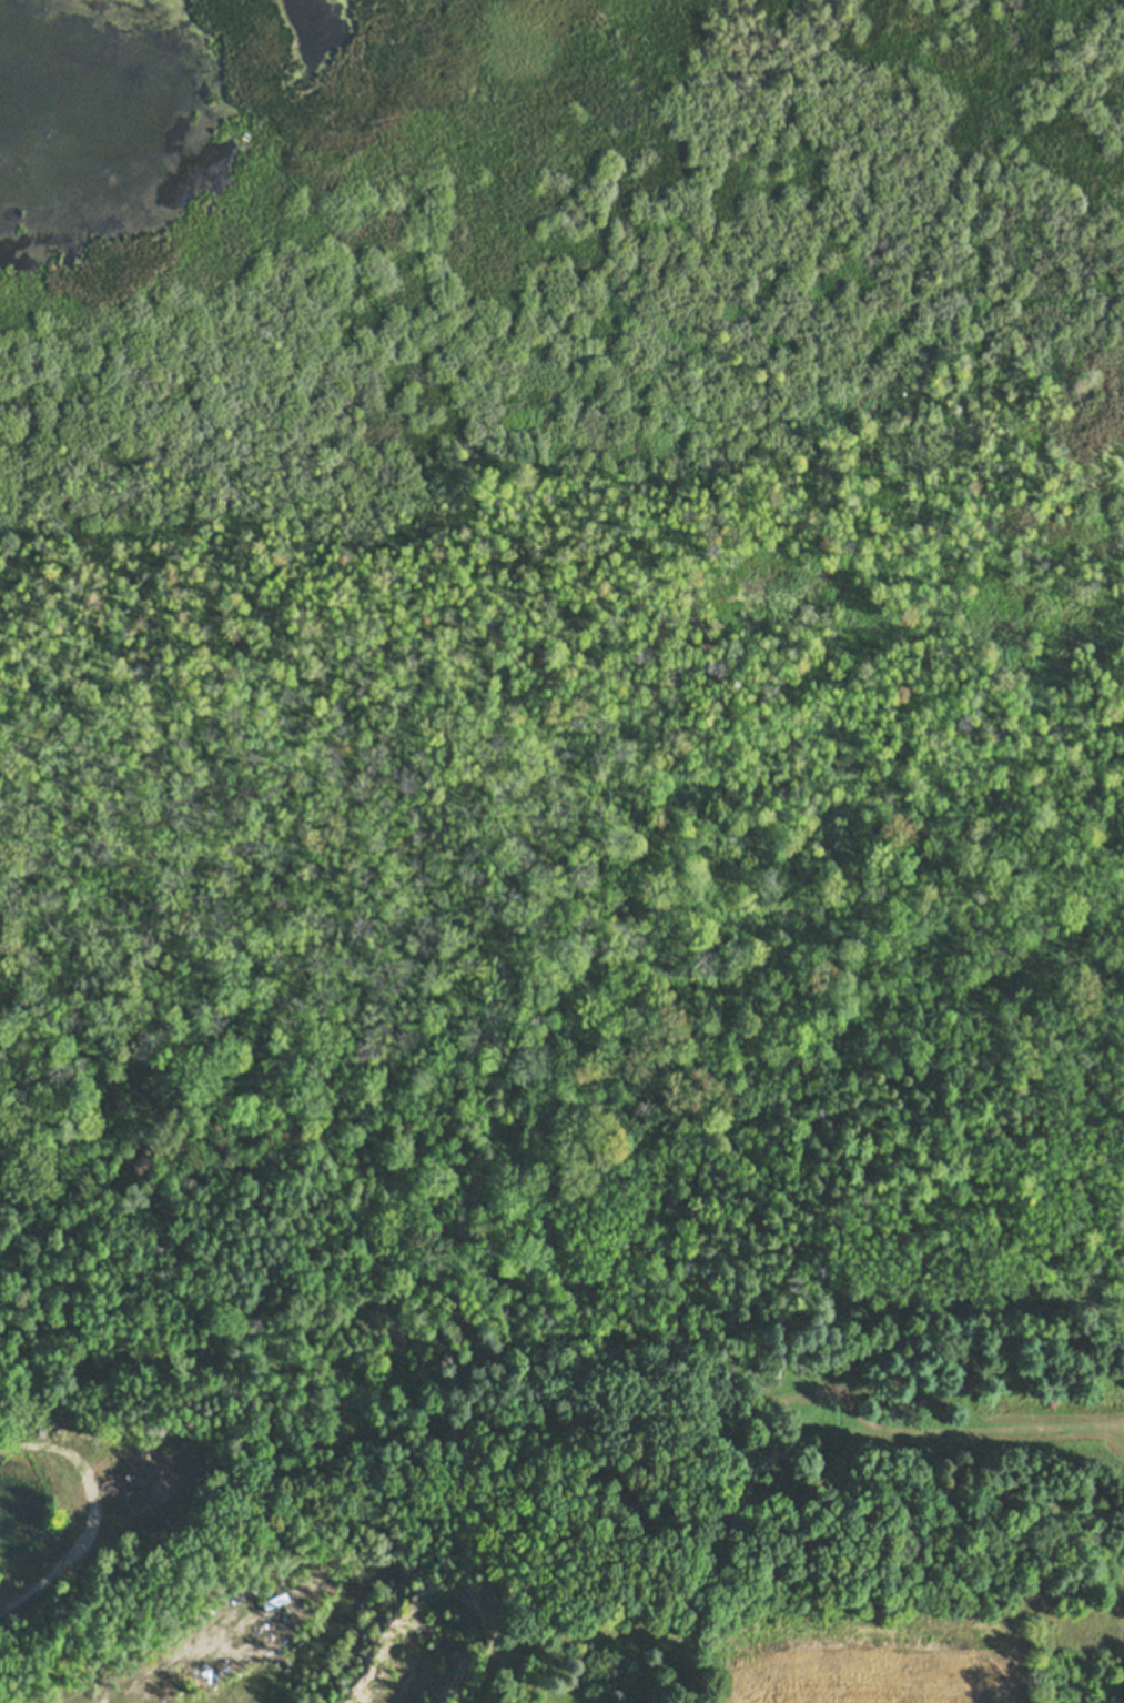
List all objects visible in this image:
building: (74, 1487)

